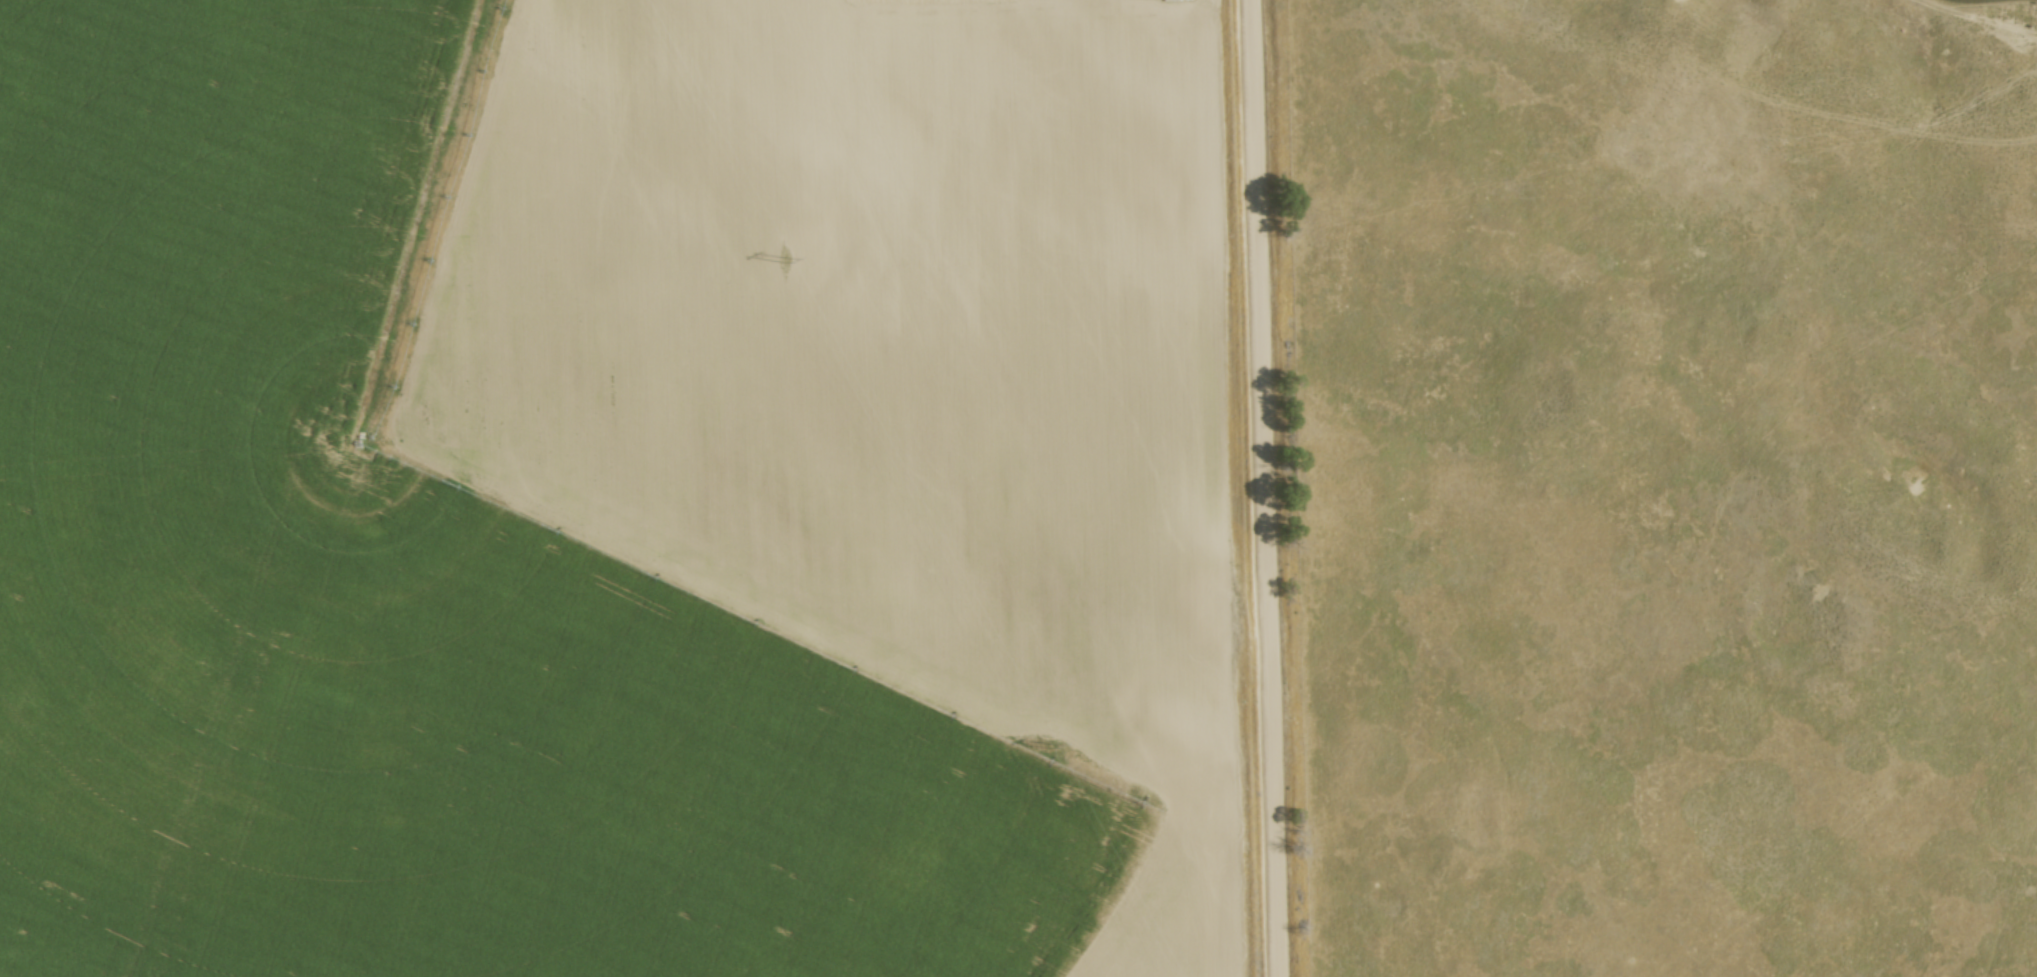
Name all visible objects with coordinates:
power tower: (786, 257)
road: (1267, 488)
crop: (618, 489)
power tower: (1051, 743)

